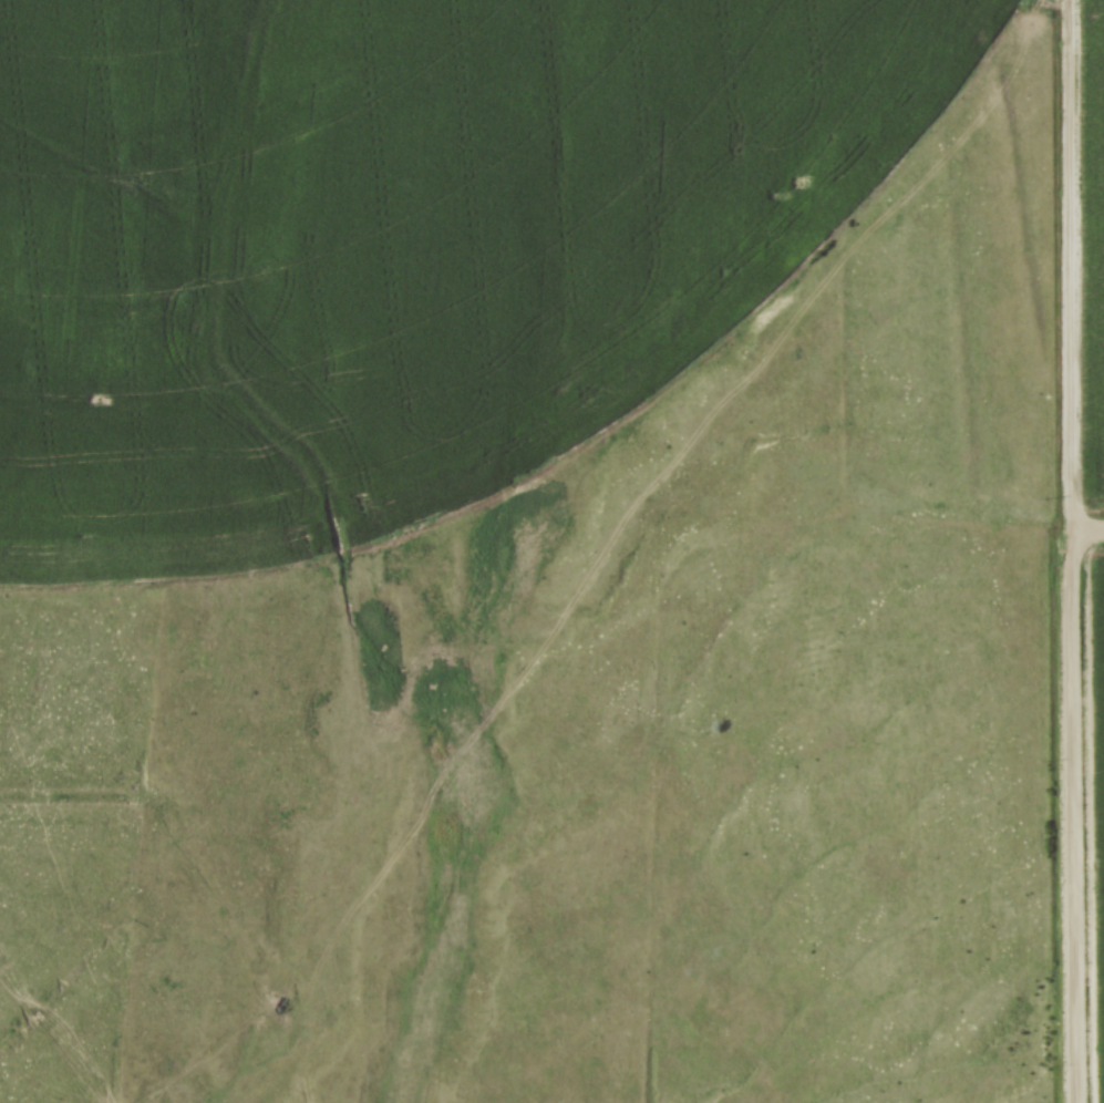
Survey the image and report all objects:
road: (1086, 530)
road: (1070, 551)

